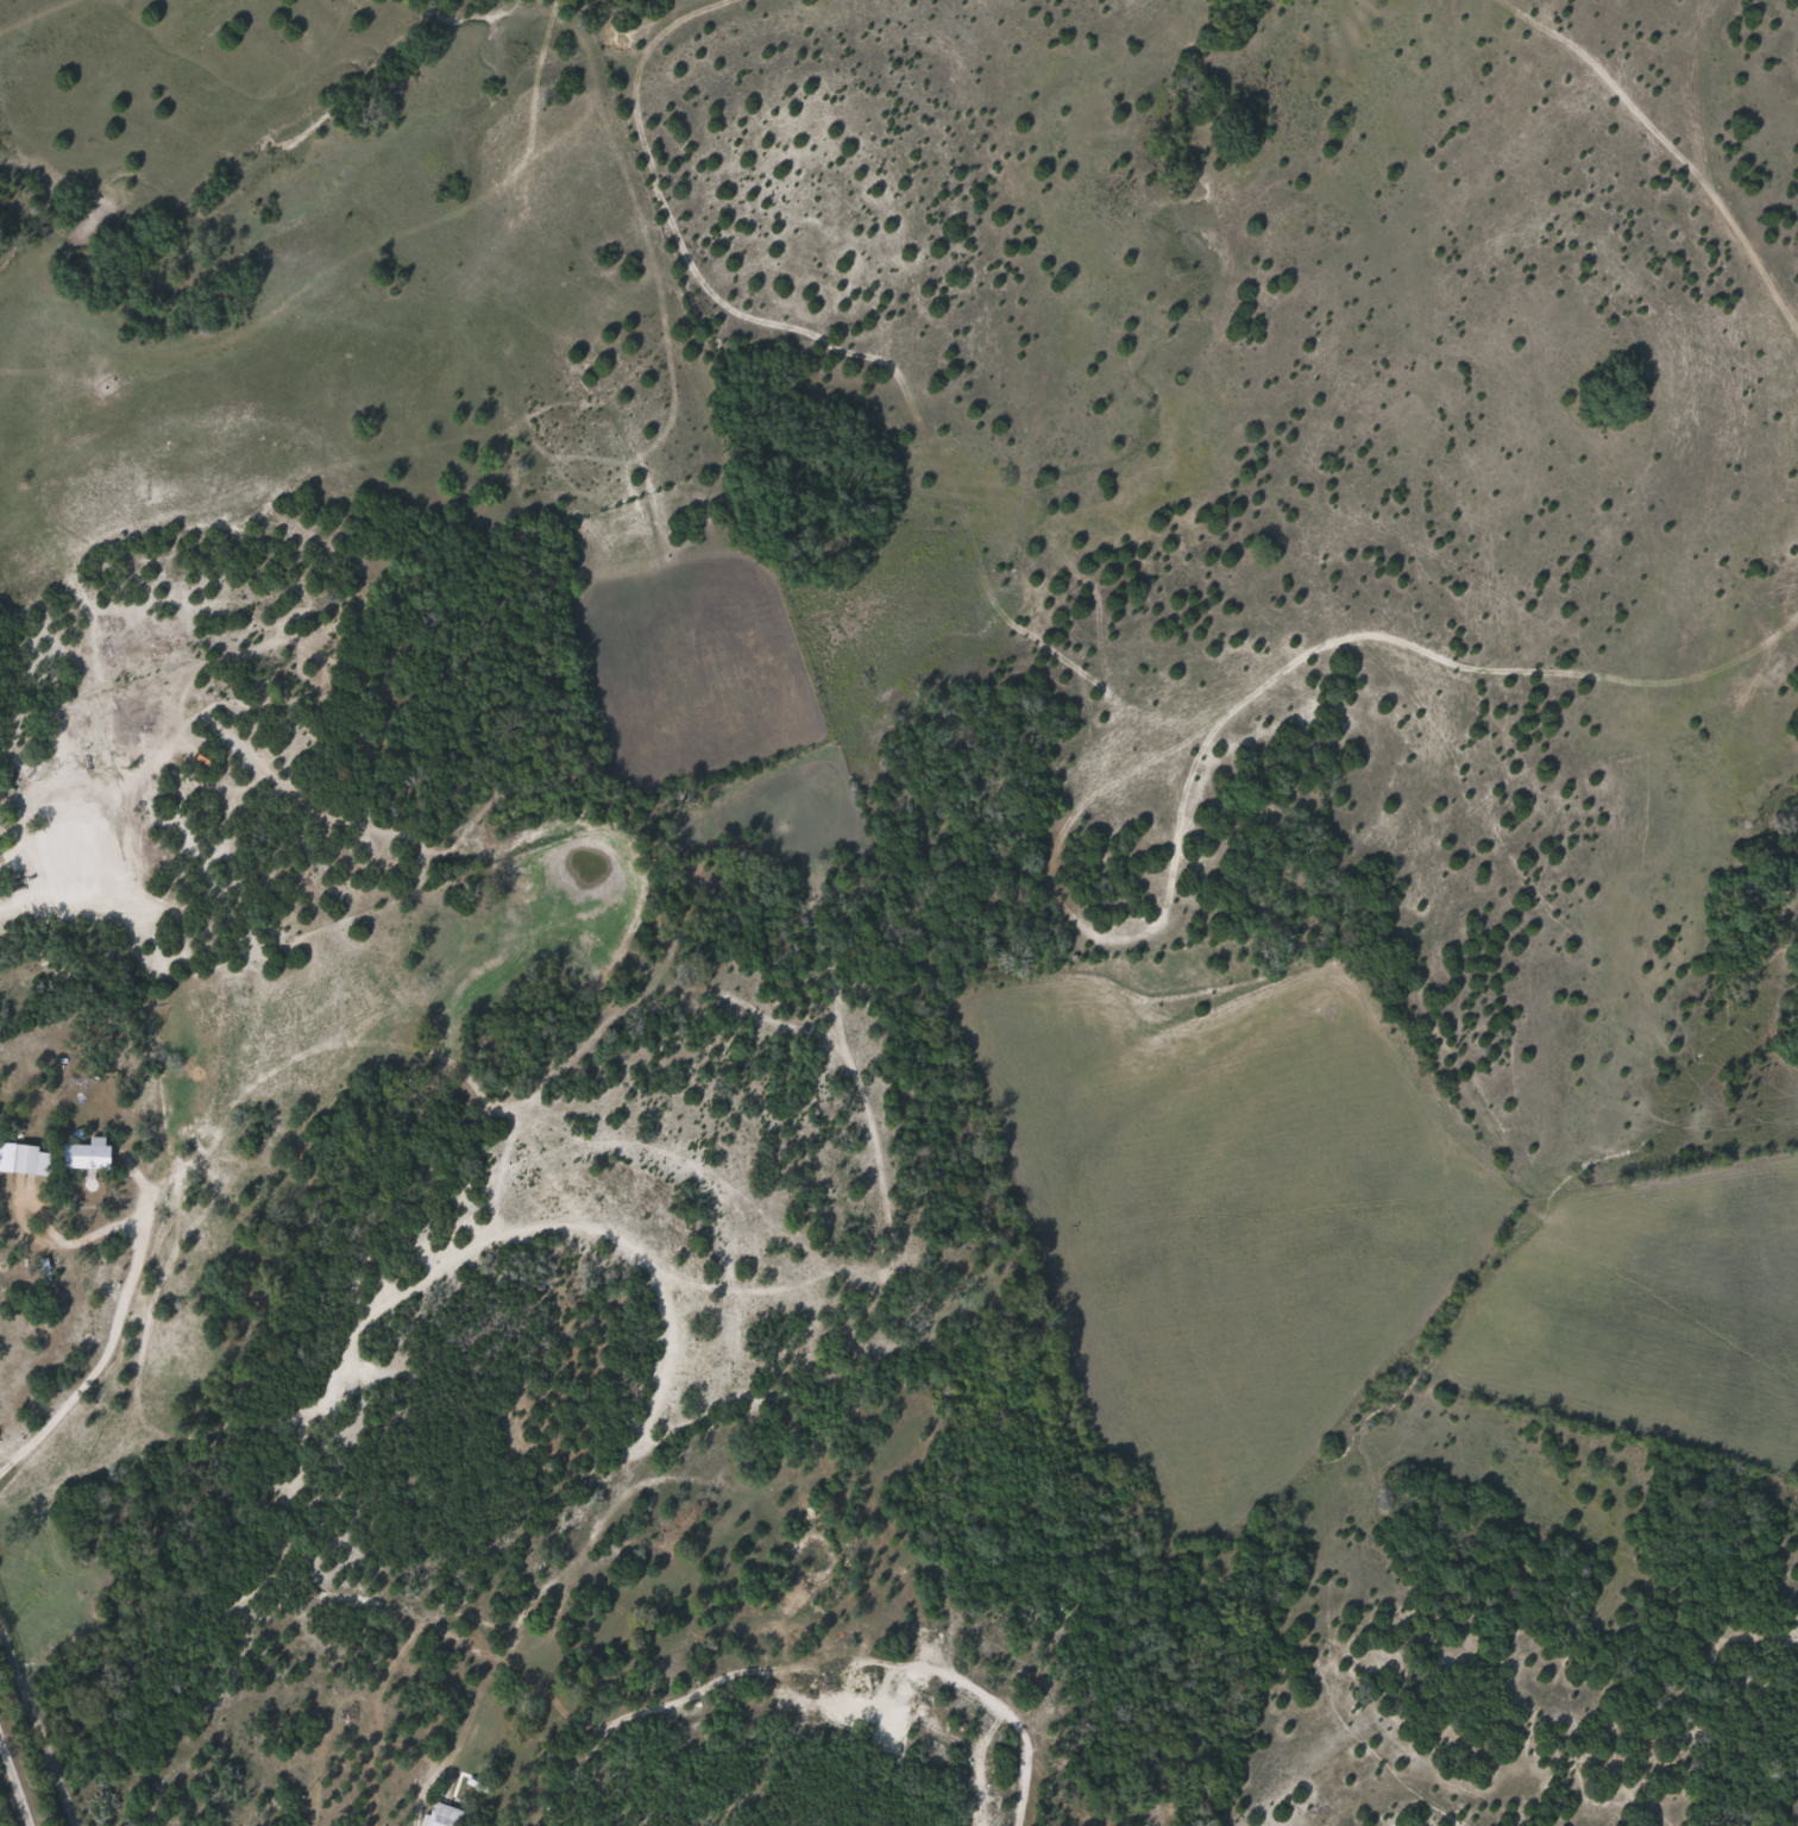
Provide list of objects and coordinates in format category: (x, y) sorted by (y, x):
building: (94, 1154)
building: (25, 1159)
road: (113, 1333)
road: (31, 1739)
road: (13, 1784)
building: (441, 1815)

